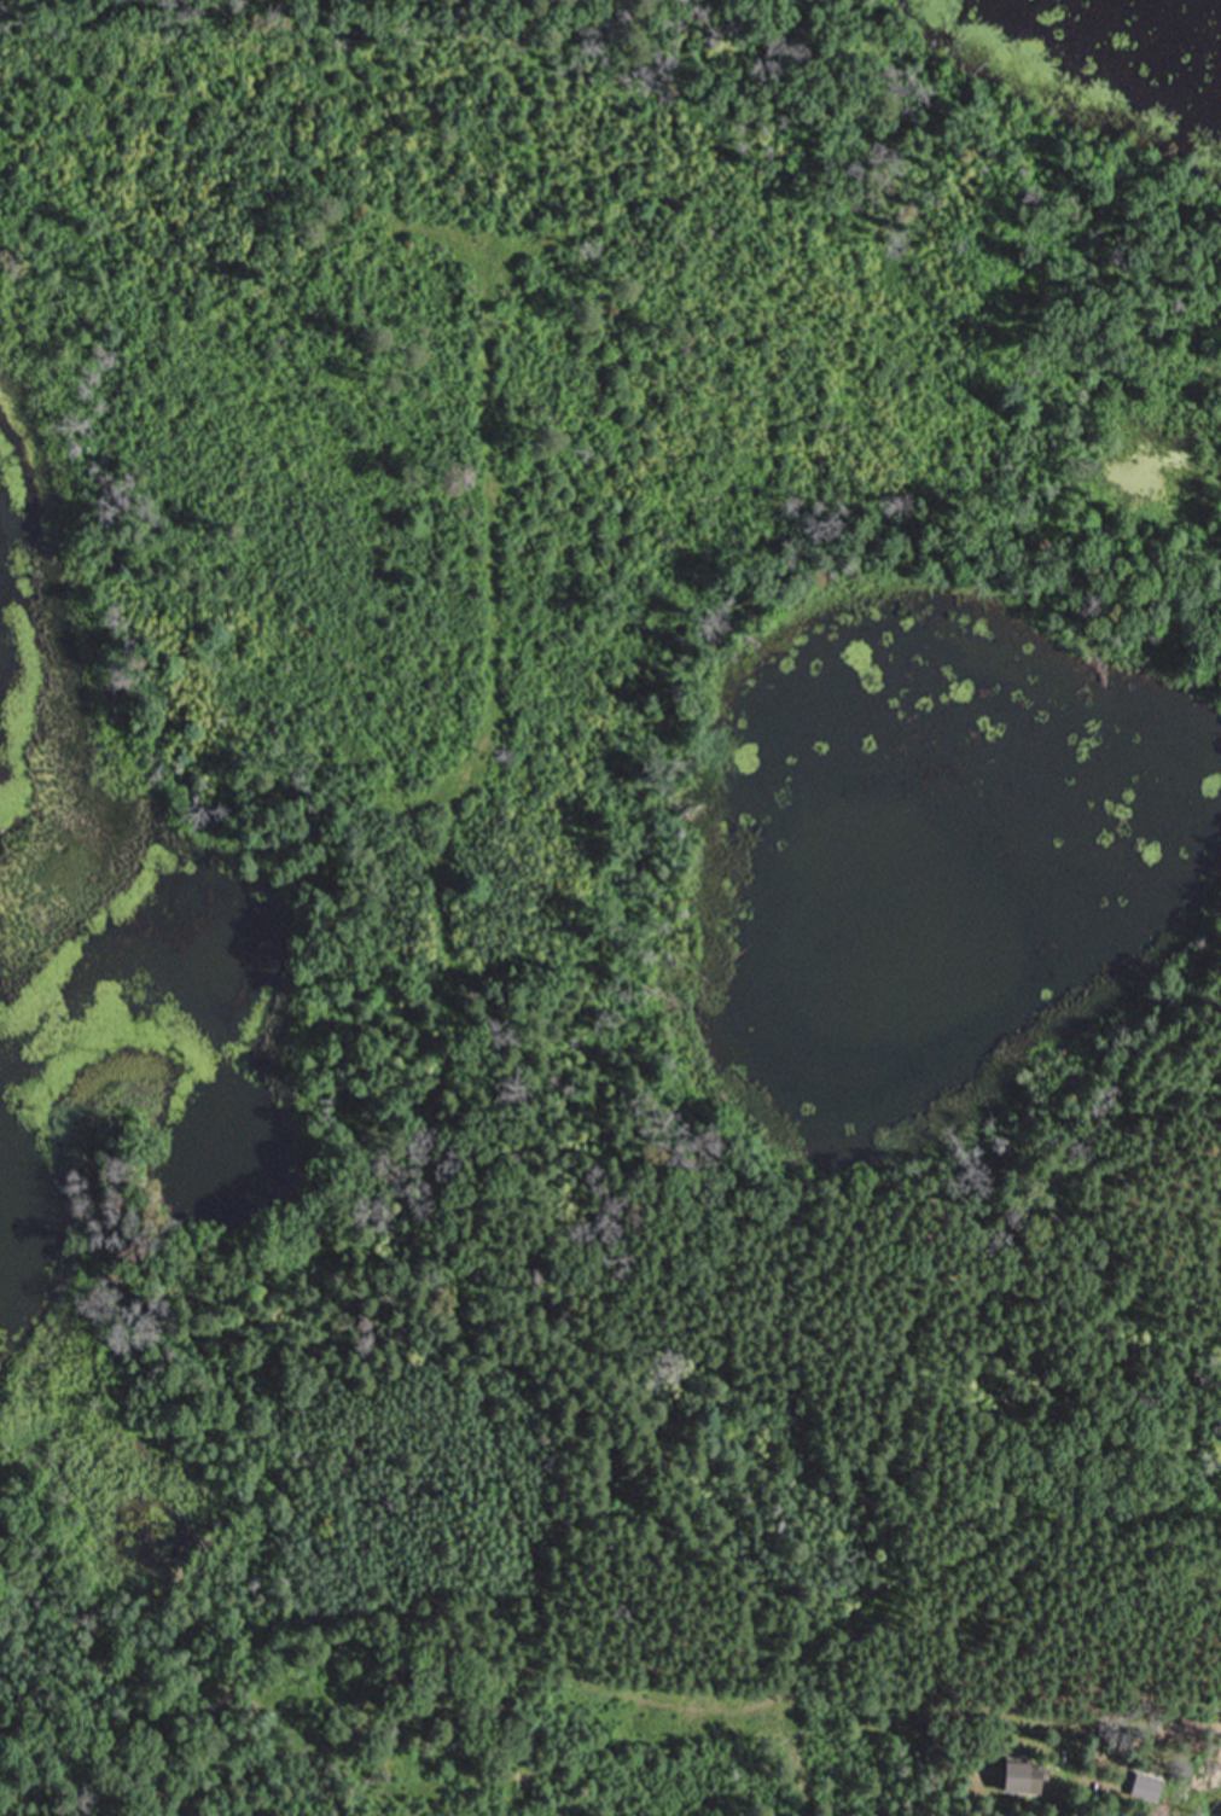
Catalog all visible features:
building: (1041, 1785)
building: (1149, 1788)
power tower: (1205, 1814)

